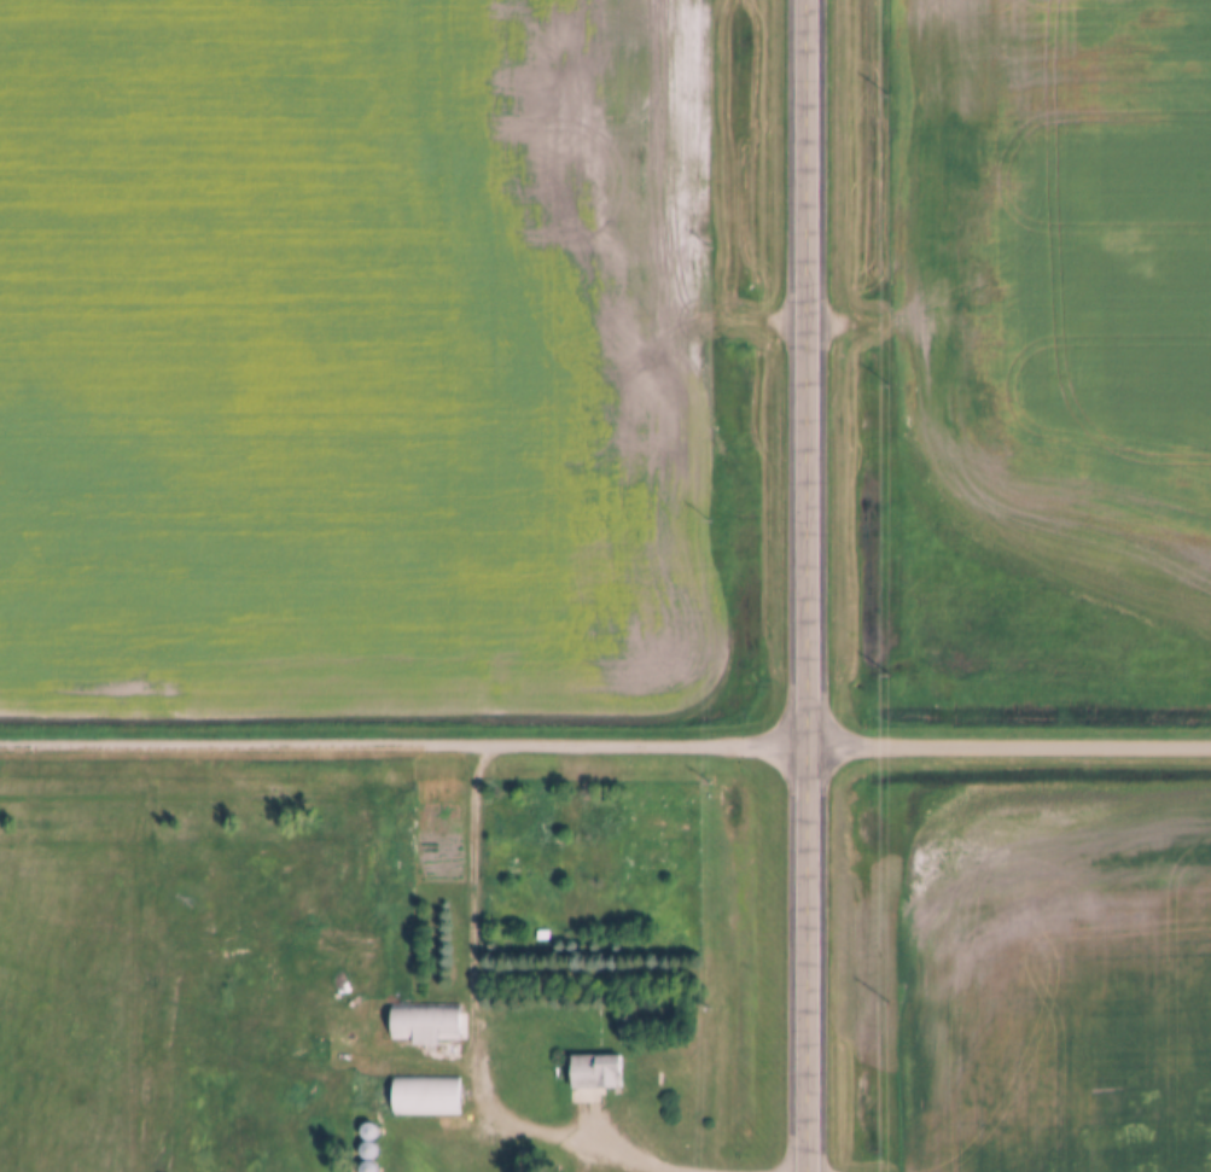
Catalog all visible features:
road: (804, 585)
road: (402, 746)
road: (1008, 746)
road: (472, 904)
building: (425, 1025)
building: (595, 1072)
building: (426, 1096)
building: (369, 1132)
silo: (369, 1132)
road: (560, 1137)
building: (368, 1151)
silo: (368, 1151)
building: (368, 1167)
silo: (368, 1167)

